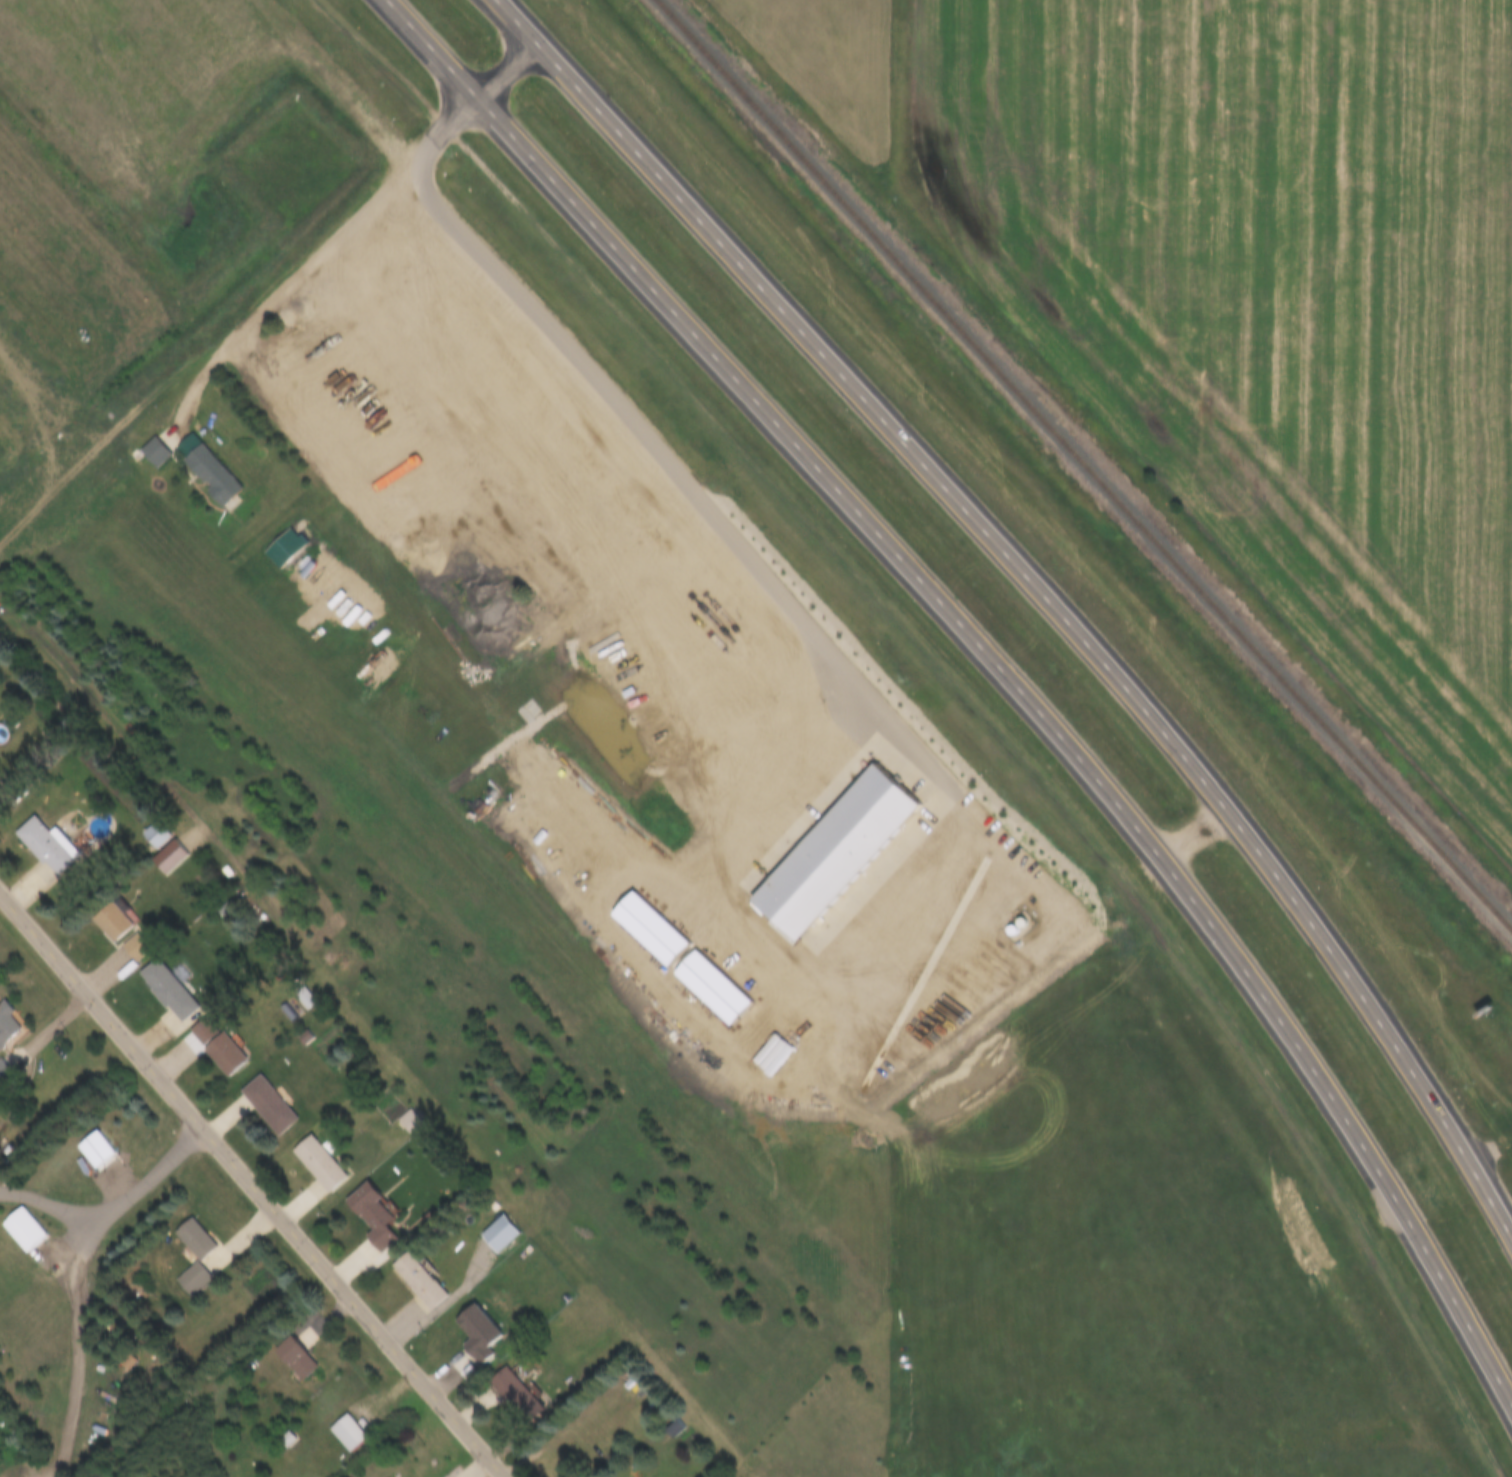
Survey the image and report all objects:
road: (341, 232)
building: (467, 358)
building: (567, 464)
railway: (1084, 465)
building: (196, 466)
building: (593, 491)
building: (285, 547)
road: (1040, 587)
road: (996, 662)
road: (955, 700)
building: (45, 846)
building: (831, 853)
building: (167, 857)
building: (107, 922)
building: (164, 990)
building: (299, 997)
building: (5, 1024)
building: (199, 1030)
building: (220, 1053)
building: (2, 1070)
building: (264, 1104)
road: (7, 1120)
building: (406, 1121)
road: (1490, 1150)
building: (315, 1164)
road: (249, 1187)
road: (125, 1195)
building: (367, 1216)
building: (21, 1229)
building: (496, 1234)
building: (190, 1255)
building: (415, 1282)
building: (293, 1358)
building: (127, 1362)
building: (509, 1394)
building: (675, 1428)
building: (345, 1433)
building: (287, 1440)

